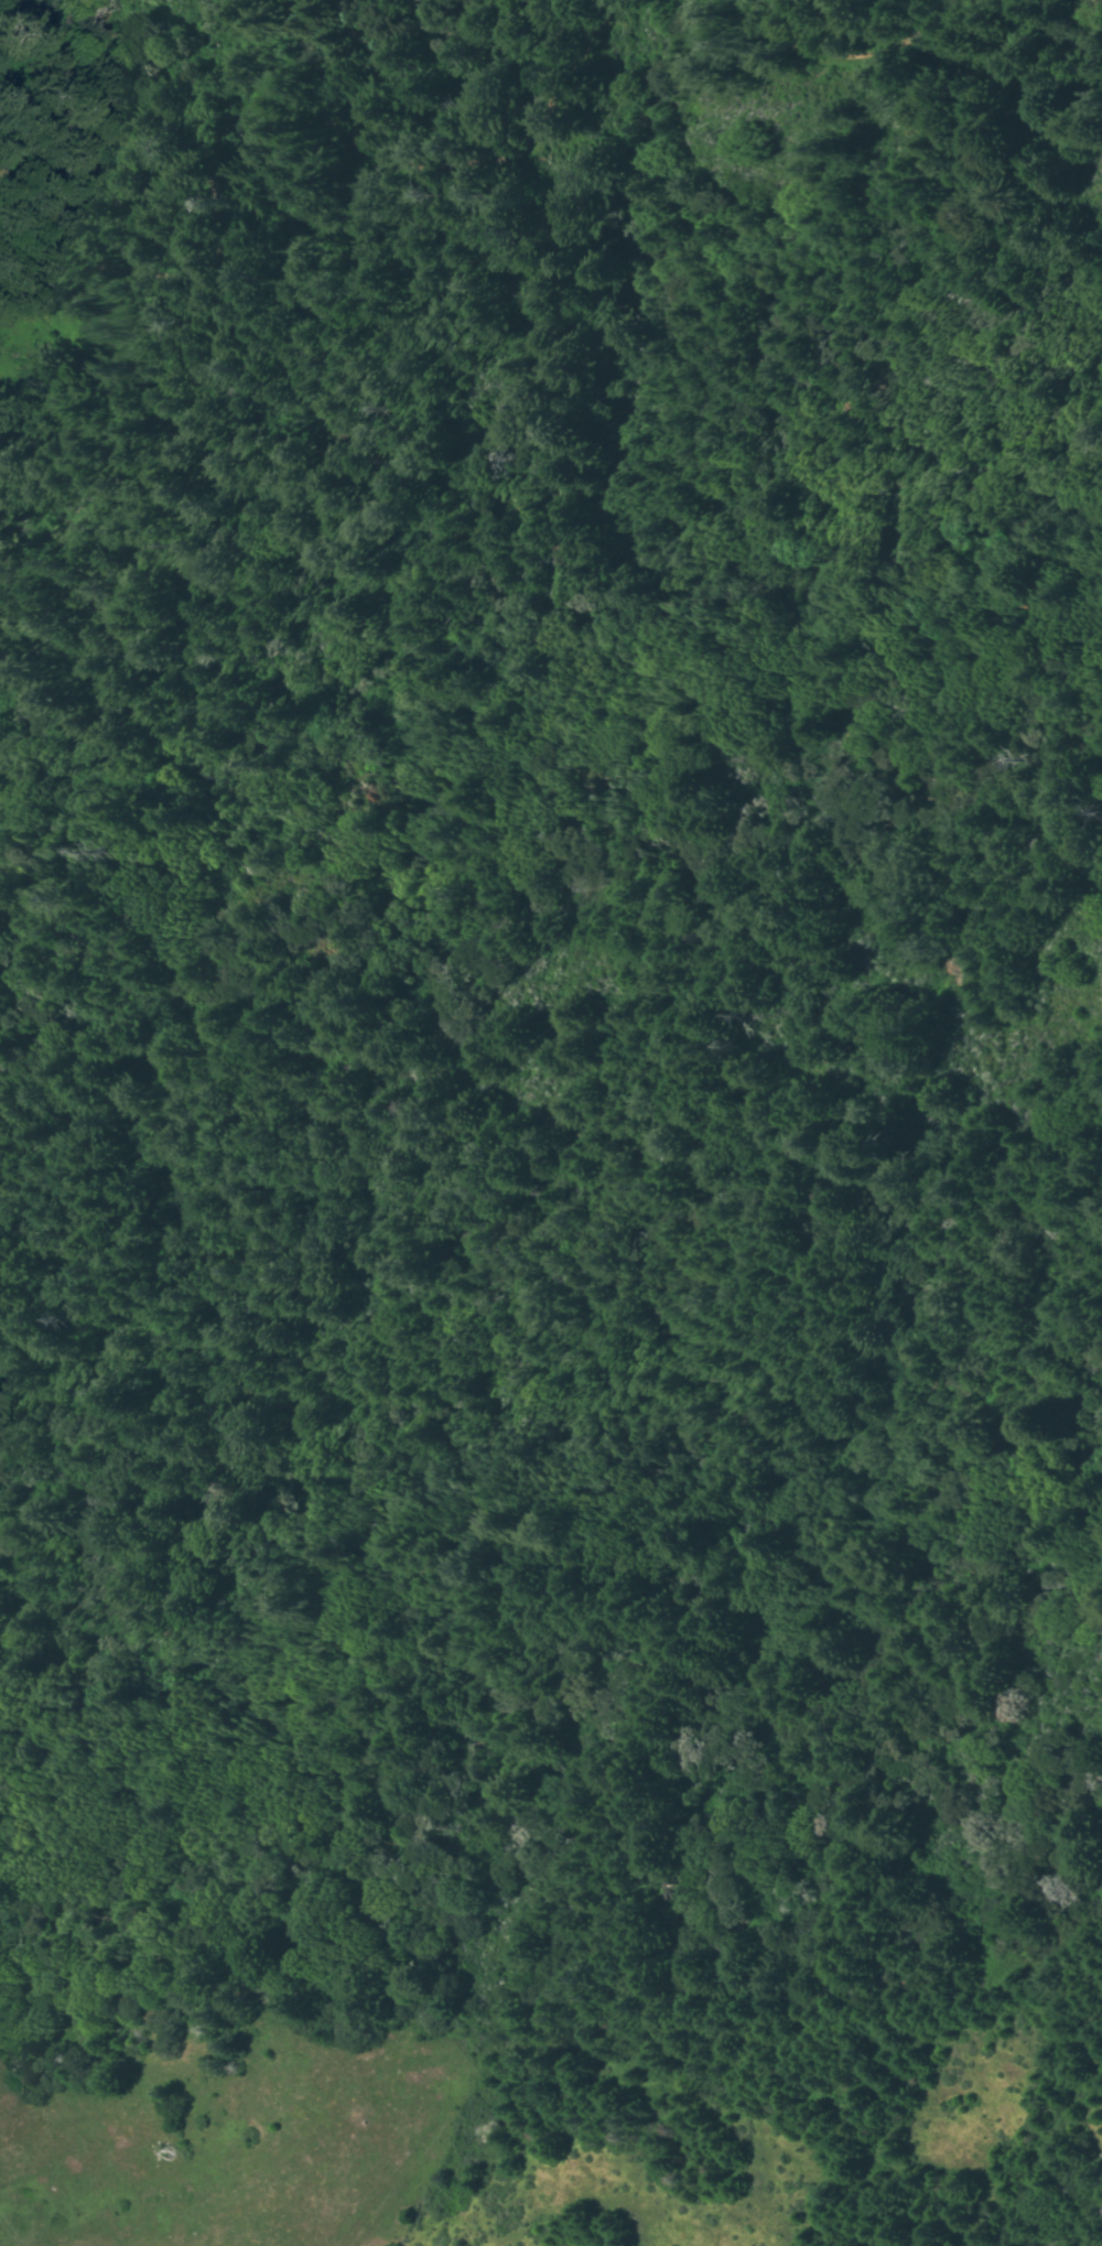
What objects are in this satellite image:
road: (845, 57)
road: (279, 93)

